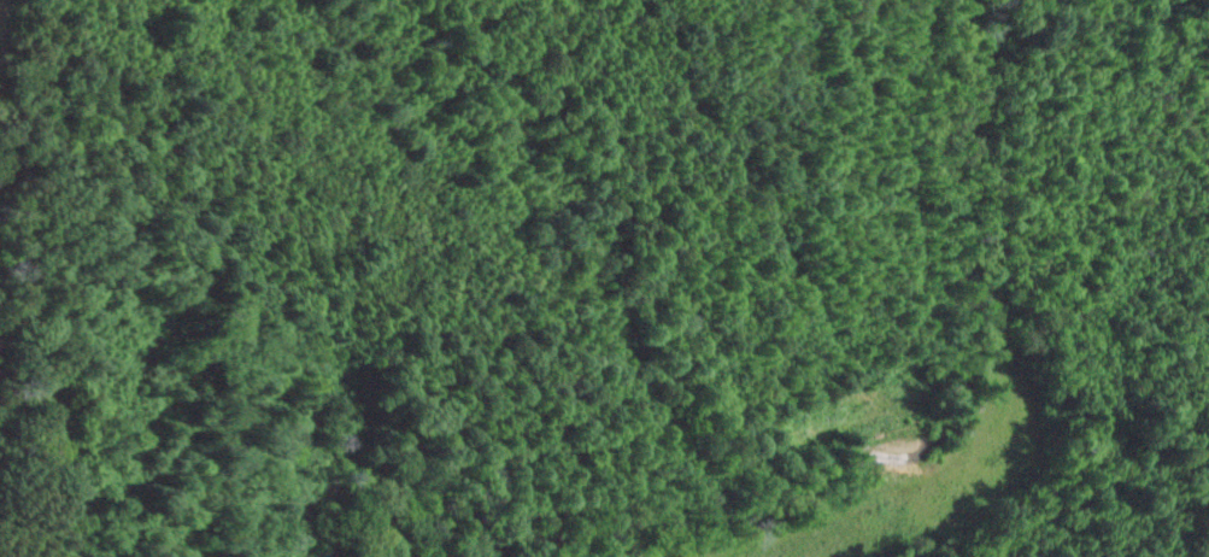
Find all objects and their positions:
river: (814, 487)

